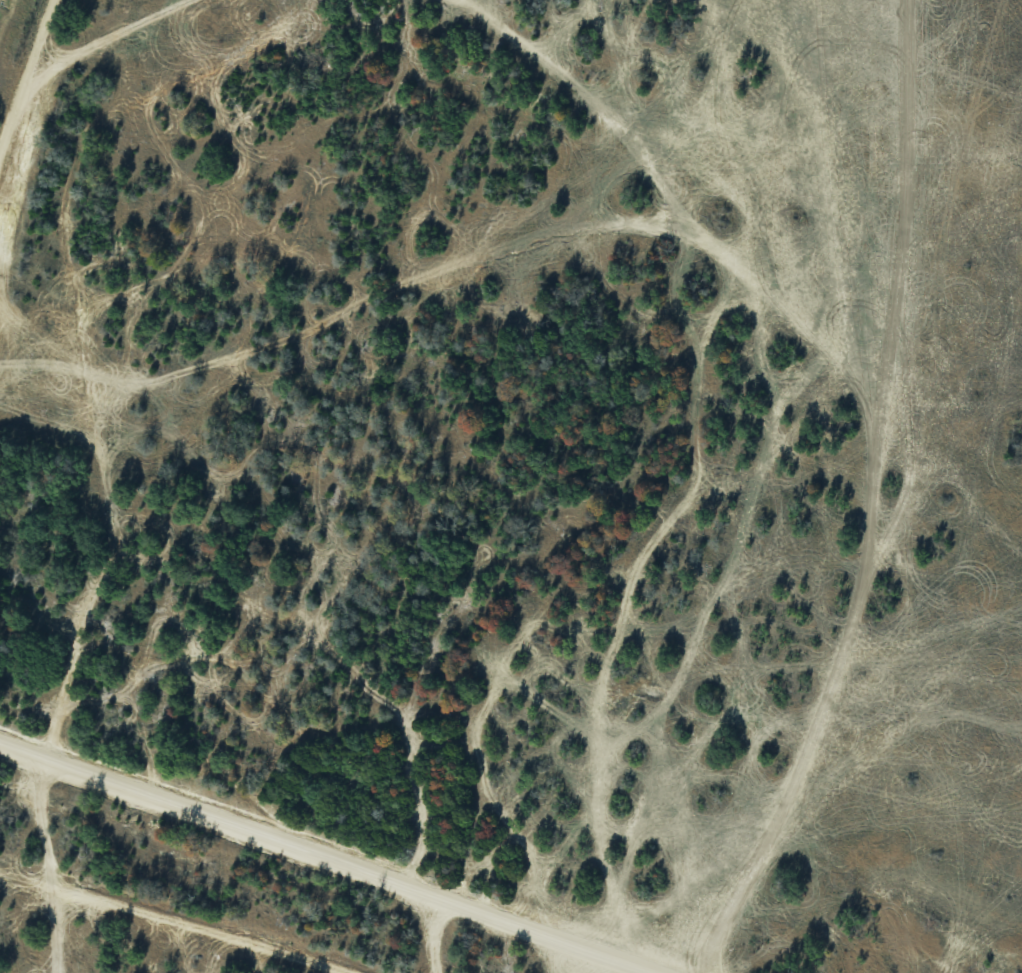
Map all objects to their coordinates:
road: (337, 855)

